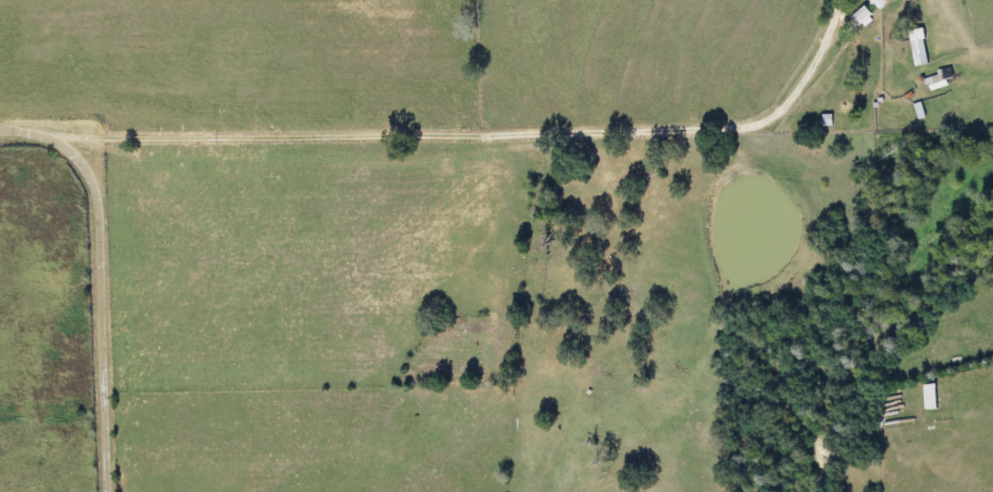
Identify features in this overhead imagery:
building: (917, 45)
building: (936, 80)
road: (526, 206)
road: (106, 277)
building: (929, 395)

